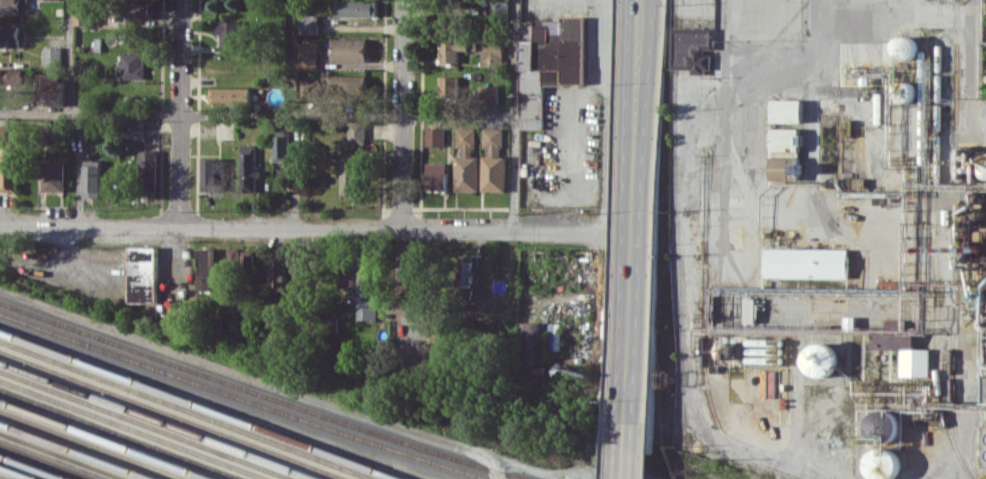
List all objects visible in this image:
building: (448, 0)
building: (10, 6)
building: (24, 6)
road: (734, 7)
building: (356, 8)
building: (497, 8)
building: (83, 14)
building: (307, 24)
building: (228, 32)
building: (9, 36)
building: (904, 47)
building: (688, 48)
building: (349, 49)
building: (553, 49)
building: (453, 50)
building: (491, 53)
building: (307, 54)
building: (52, 56)
road: (69, 57)
road: (291, 57)
building: (132, 65)
building: (12, 75)
building: (310, 84)
building: (348, 84)
building: (448, 84)
building: (50, 89)
road: (636, 90)
building: (486, 93)
building: (231, 95)
building: (785, 110)
road: (179, 113)
road: (402, 114)
road: (257, 115)
road: (514, 116)
road: (605, 117)
building: (983, 118)
building: (135, 130)
building: (3, 133)
building: (53, 133)
building: (433, 136)
building: (783, 139)
building: (280, 148)
building: (247, 160)
building: (465, 161)
building: (492, 161)
railway: (936, 165)
building: (781, 166)
building: (149, 170)
building: (8, 171)
building: (211, 173)
building: (351, 174)
building: (54, 175)
building: (434, 175)
building: (92, 178)
road: (303, 228)
railway: (952, 241)
railway: (930, 243)
building: (232, 255)
building: (247, 256)
building: (802, 261)
building: (298, 264)
building: (205, 270)
building: (466, 273)
building: (143, 274)
building: (346, 275)
building: (279, 276)
building: (367, 288)
railway: (703, 324)
road: (633, 329)
building: (905, 340)
building: (534, 354)
building: (821, 360)
building: (914, 361)
railway: (261, 393)
railway: (245, 398)
railway: (201, 404)
railway: (183, 411)
railway: (173, 414)
railway: (162, 419)
railway: (150, 424)
railway: (135, 429)
railway: (123, 433)
railway: (109, 438)
railway: (93, 444)
railway: (78, 450)
railway: (62, 455)
railway: (49, 460)
railway: (33, 466)
railway: (18, 472)
railway: (2, 477)

